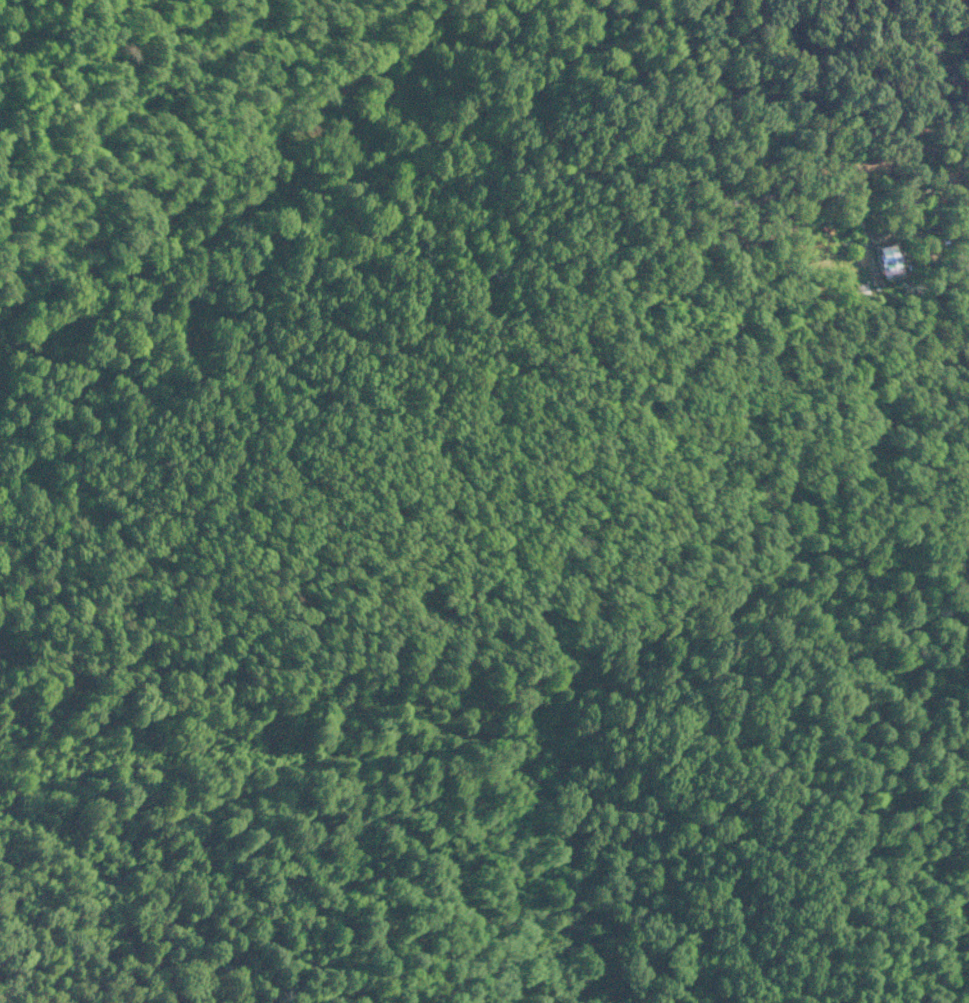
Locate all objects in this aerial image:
road: (252, 142)
building: (885, 261)
road: (25, 294)

